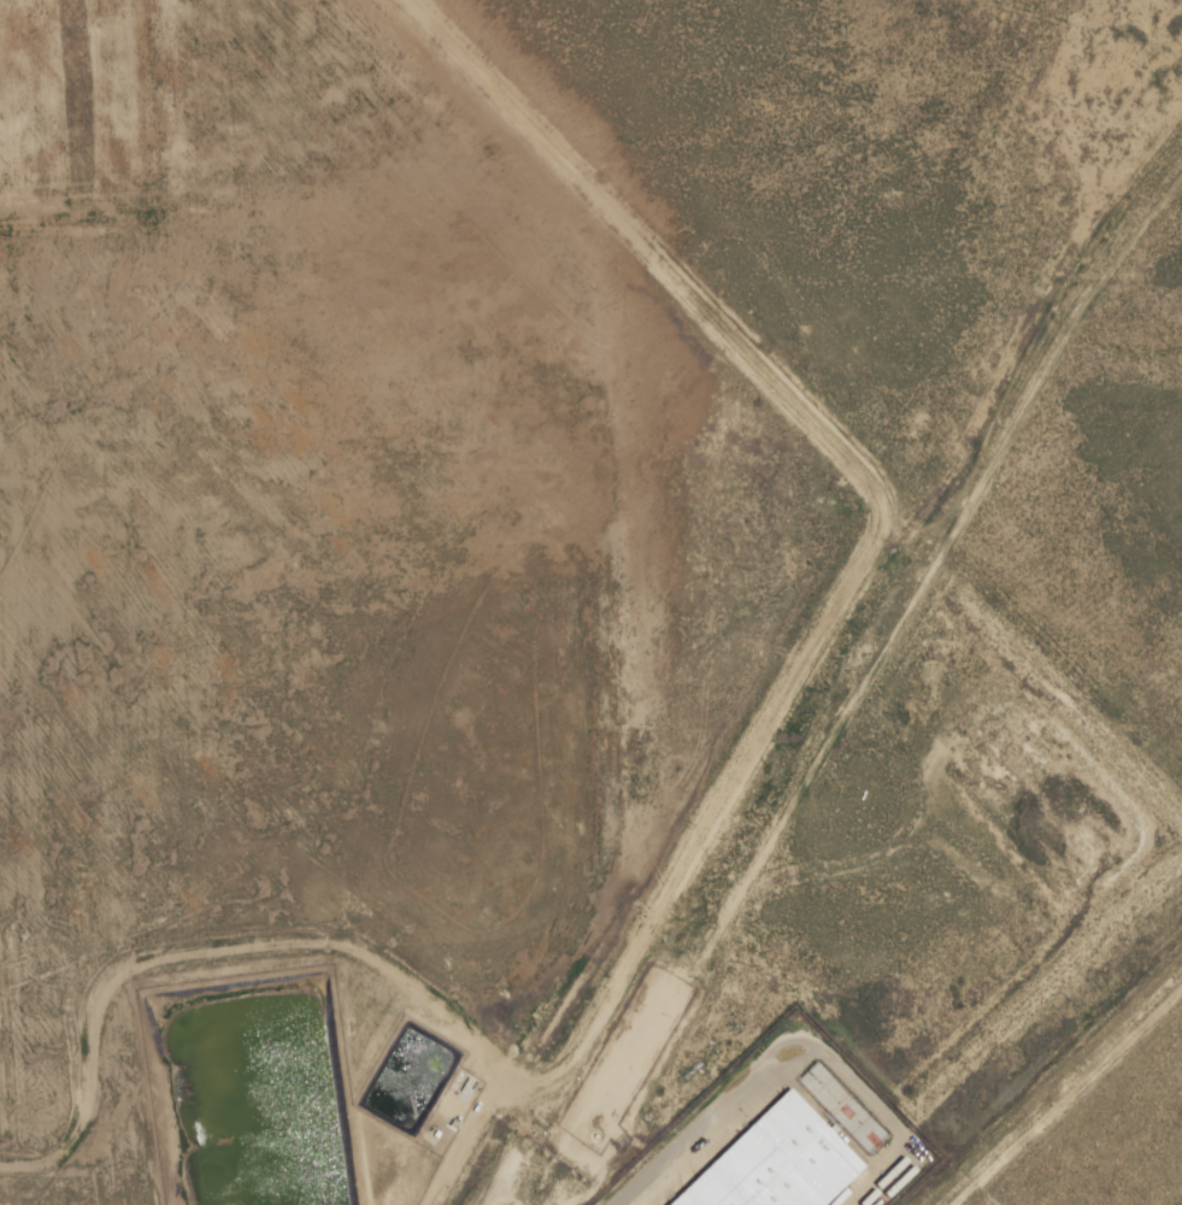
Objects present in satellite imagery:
landfill: (84, 99)
landfill: (286, 595)
building: (774, 1157)

